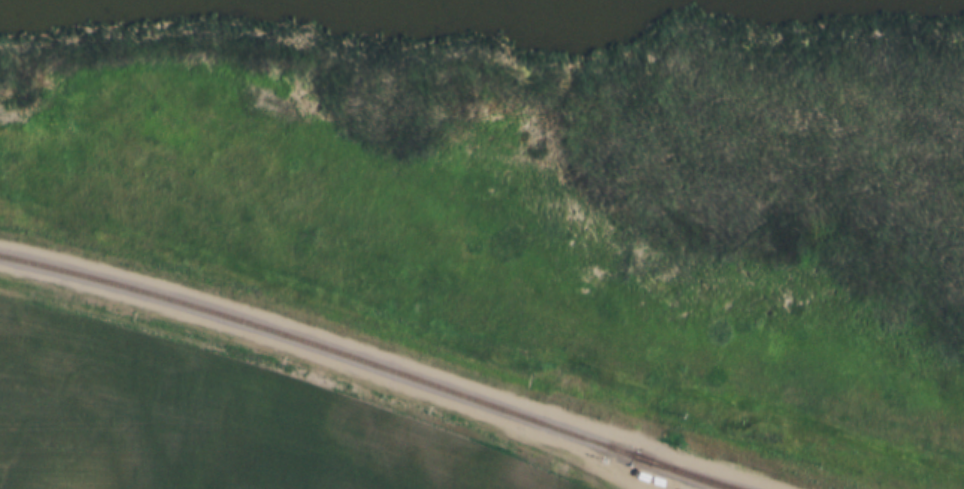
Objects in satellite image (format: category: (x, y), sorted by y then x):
railway: (361, 367)
road: (731, 472)
railway: (683, 474)

